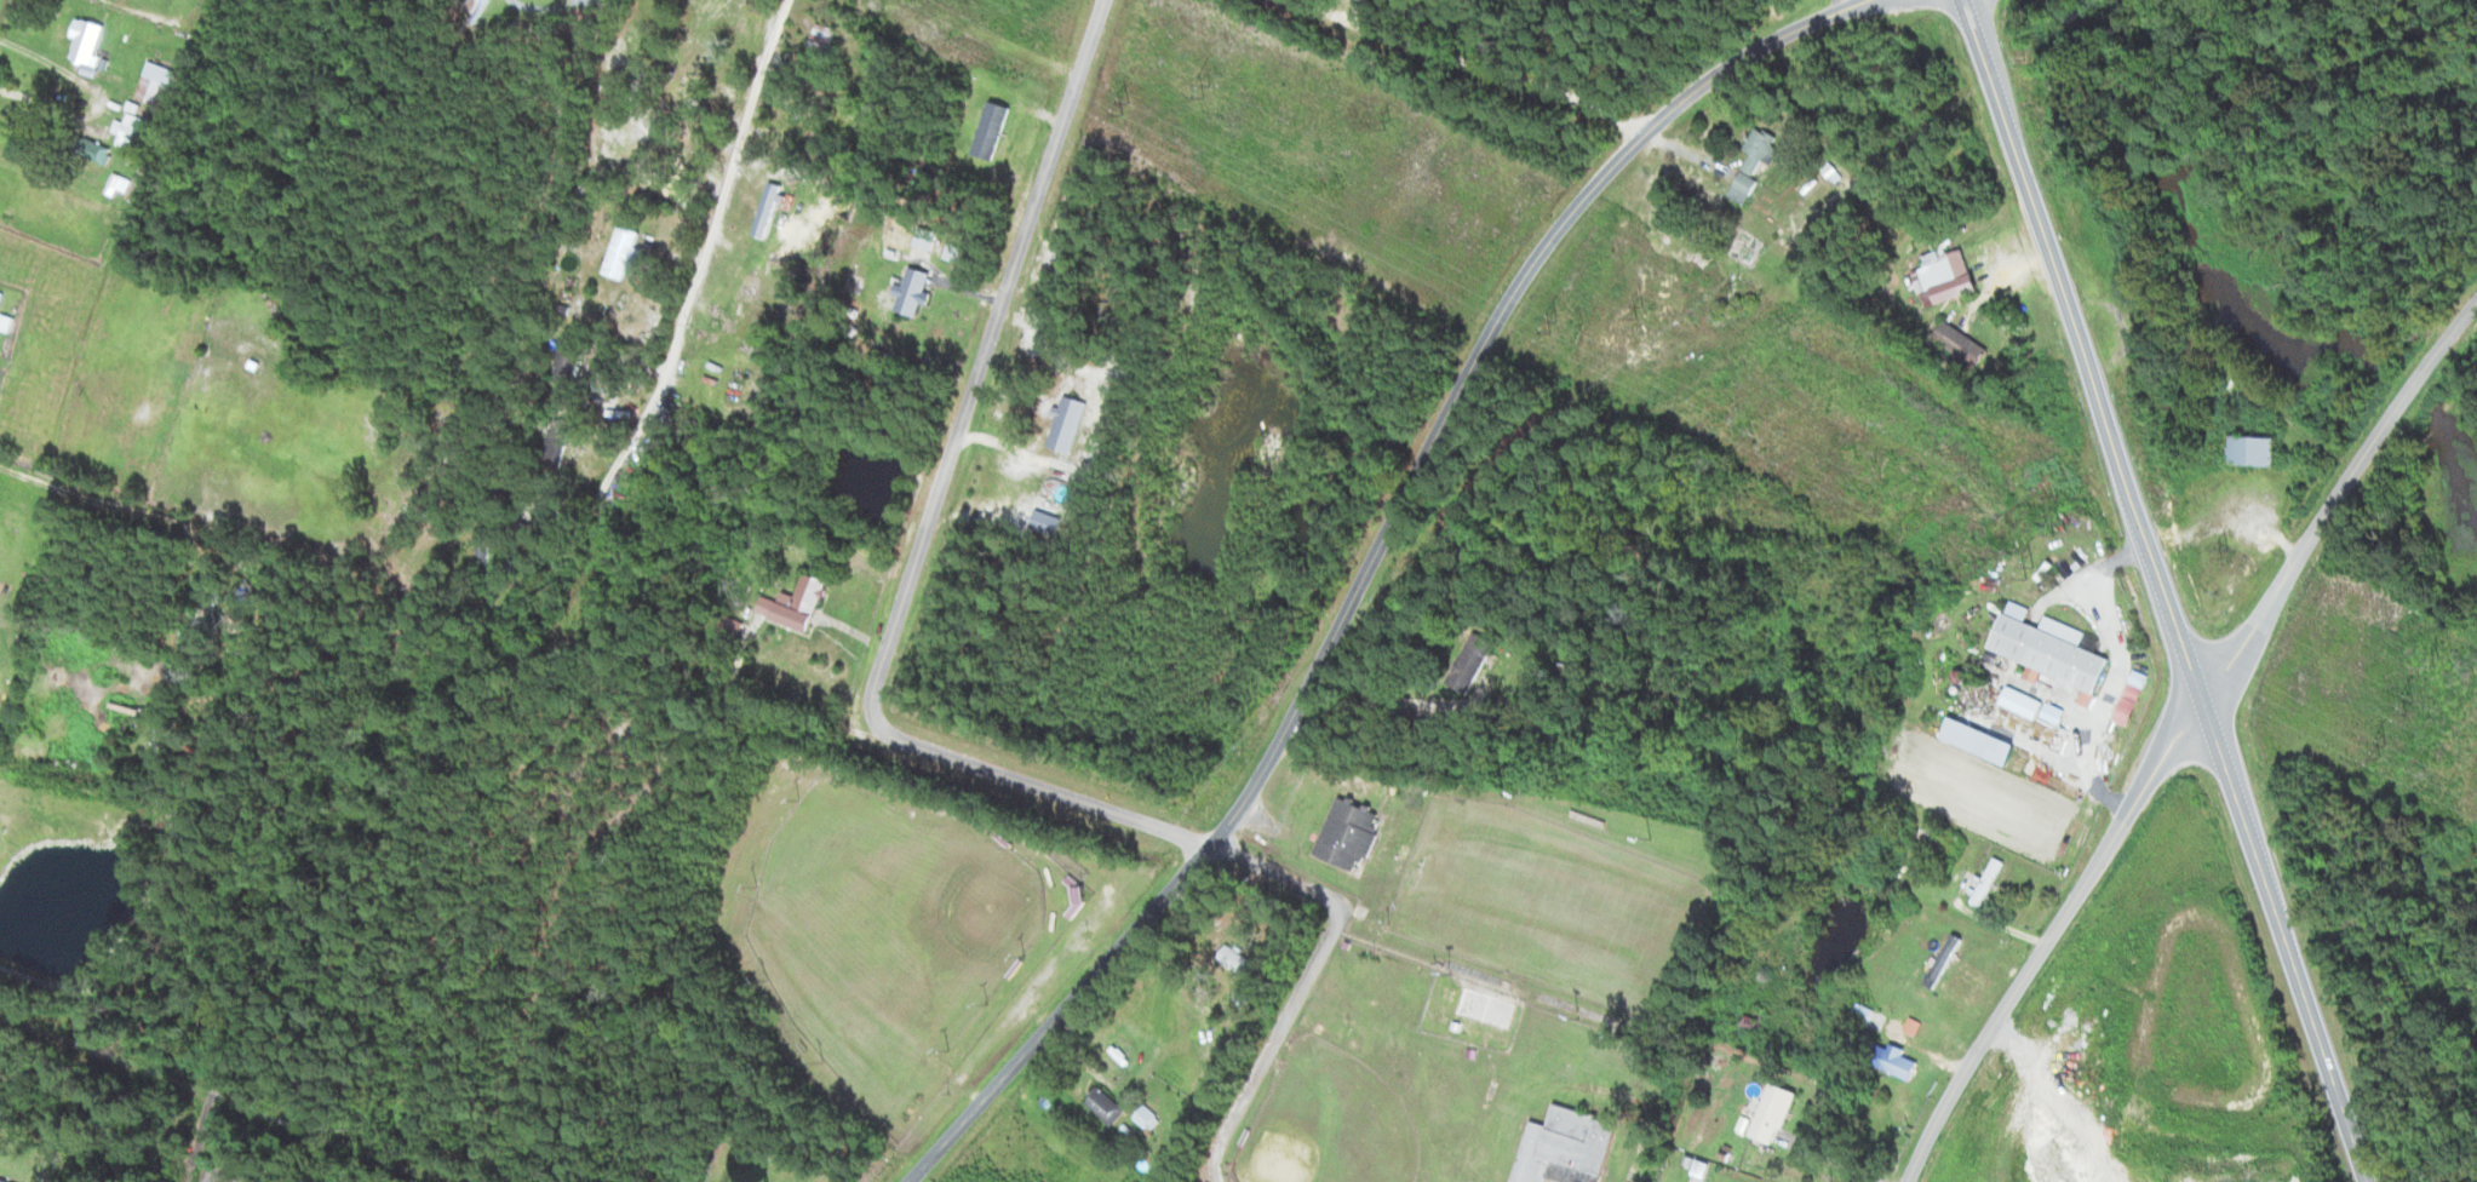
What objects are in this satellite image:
road: (1325, 10)
road: (1347, 10)
building: (825, 39)
building: (90, 41)
road: (1497, 74)
building: (155, 82)
power tower: (1211, 91)
power tower: (1126, 108)
power tower: (1389, 125)
building: (801, 127)
building: (996, 130)
building: (137, 132)
building: (99, 150)
building: (1759, 161)
building: (773, 205)
building: (626, 253)
building: (1950, 274)
building: (917, 291)
building: (1, 298)
power tower: (1730, 302)
power tower: (1642, 311)
power tower: (1554, 327)
building: (1963, 343)
road: (2088, 348)
building: (570, 362)
building: (1071, 423)
building: (561, 444)
building: (2259, 451)
power tower: (2063, 528)
road: (925, 530)
building: (487, 546)
road: (1375, 555)
power tower: (2231, 556)
power tower: (2037, 572)
building: (799, 604)
building: (27, 643)
building: (2055, 653)
power tower: (2436, 660)
building: (1474, 662)
building: (2134, 698)
power tower: (2414, 708)
building: (2057, 712)
road: (2178, 735)
building: (1983, 741)
power tower: (2385, 752)
building: (1353, 836)
building: (1944, 836)
building: (1990, 883)
road: (2287, 939)
building: (1239, 959)
road: (1311, 981)
building: (1869, 1015)
building: (1904, 1062)
building: (1107, 1104)
building: (1777, 1114)
building: (1149, 1118)
building: (1569, 1148)
building: (4, 1180)

